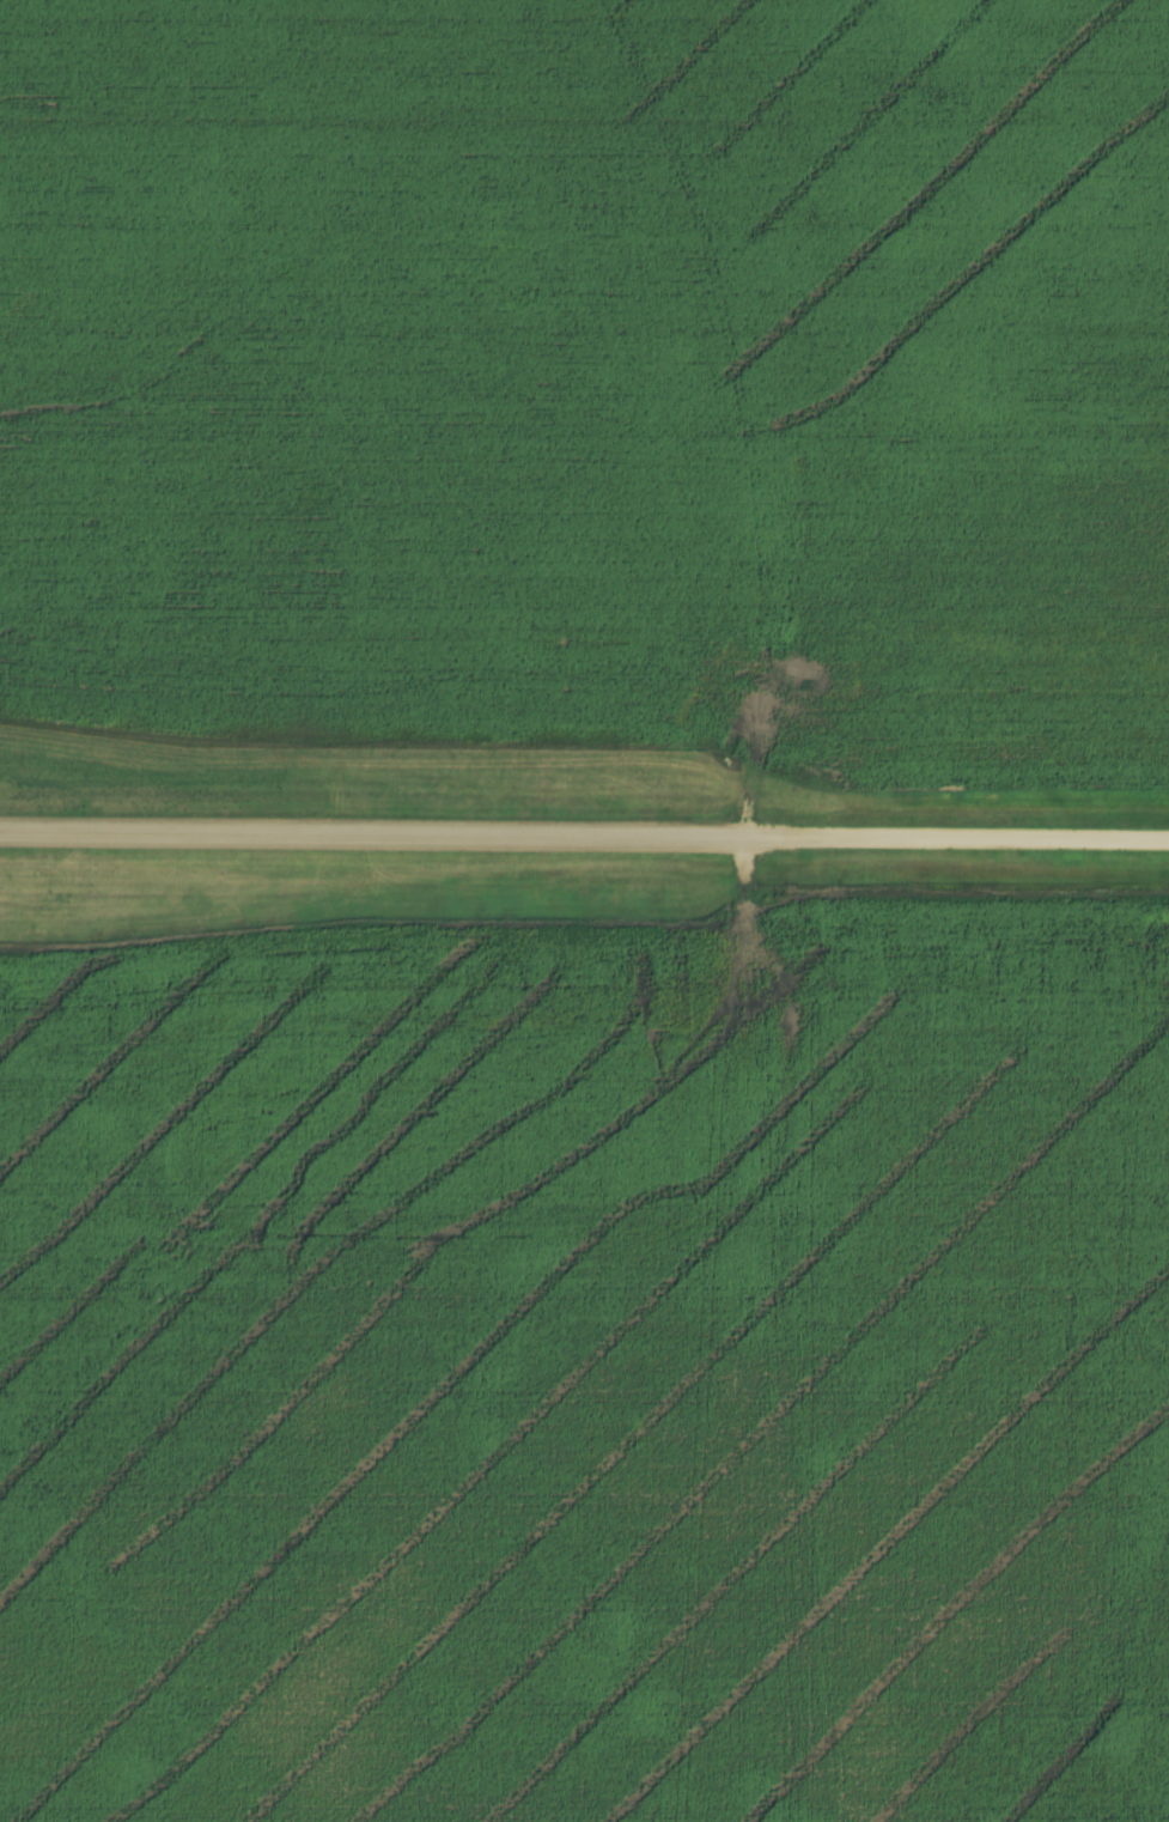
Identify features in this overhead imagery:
road: (584, 836)

